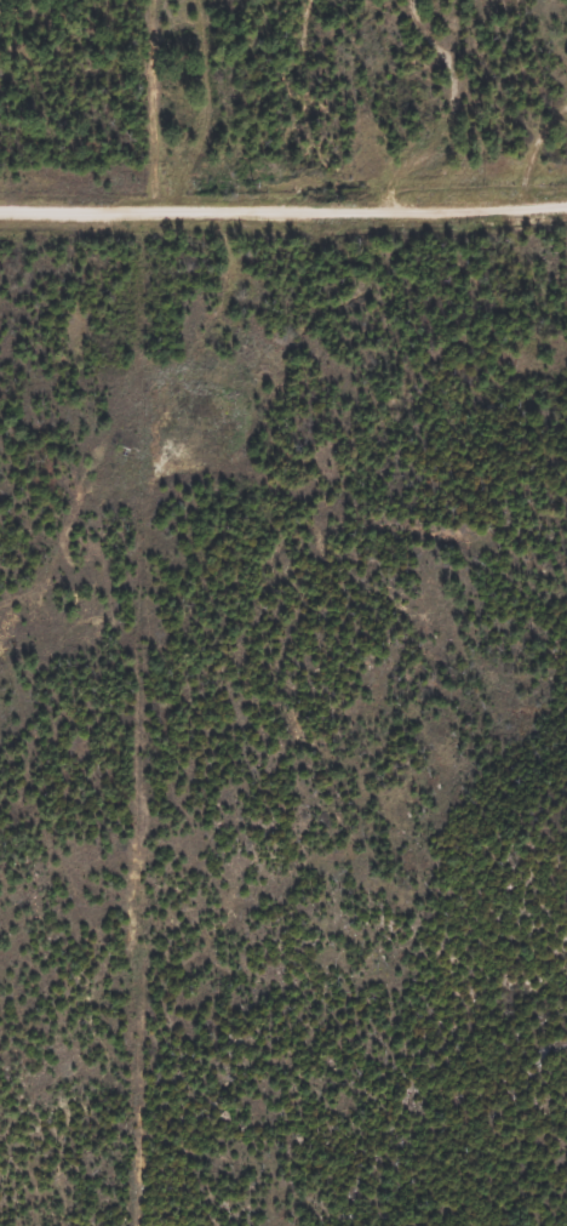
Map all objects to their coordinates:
road: (283, 207)

